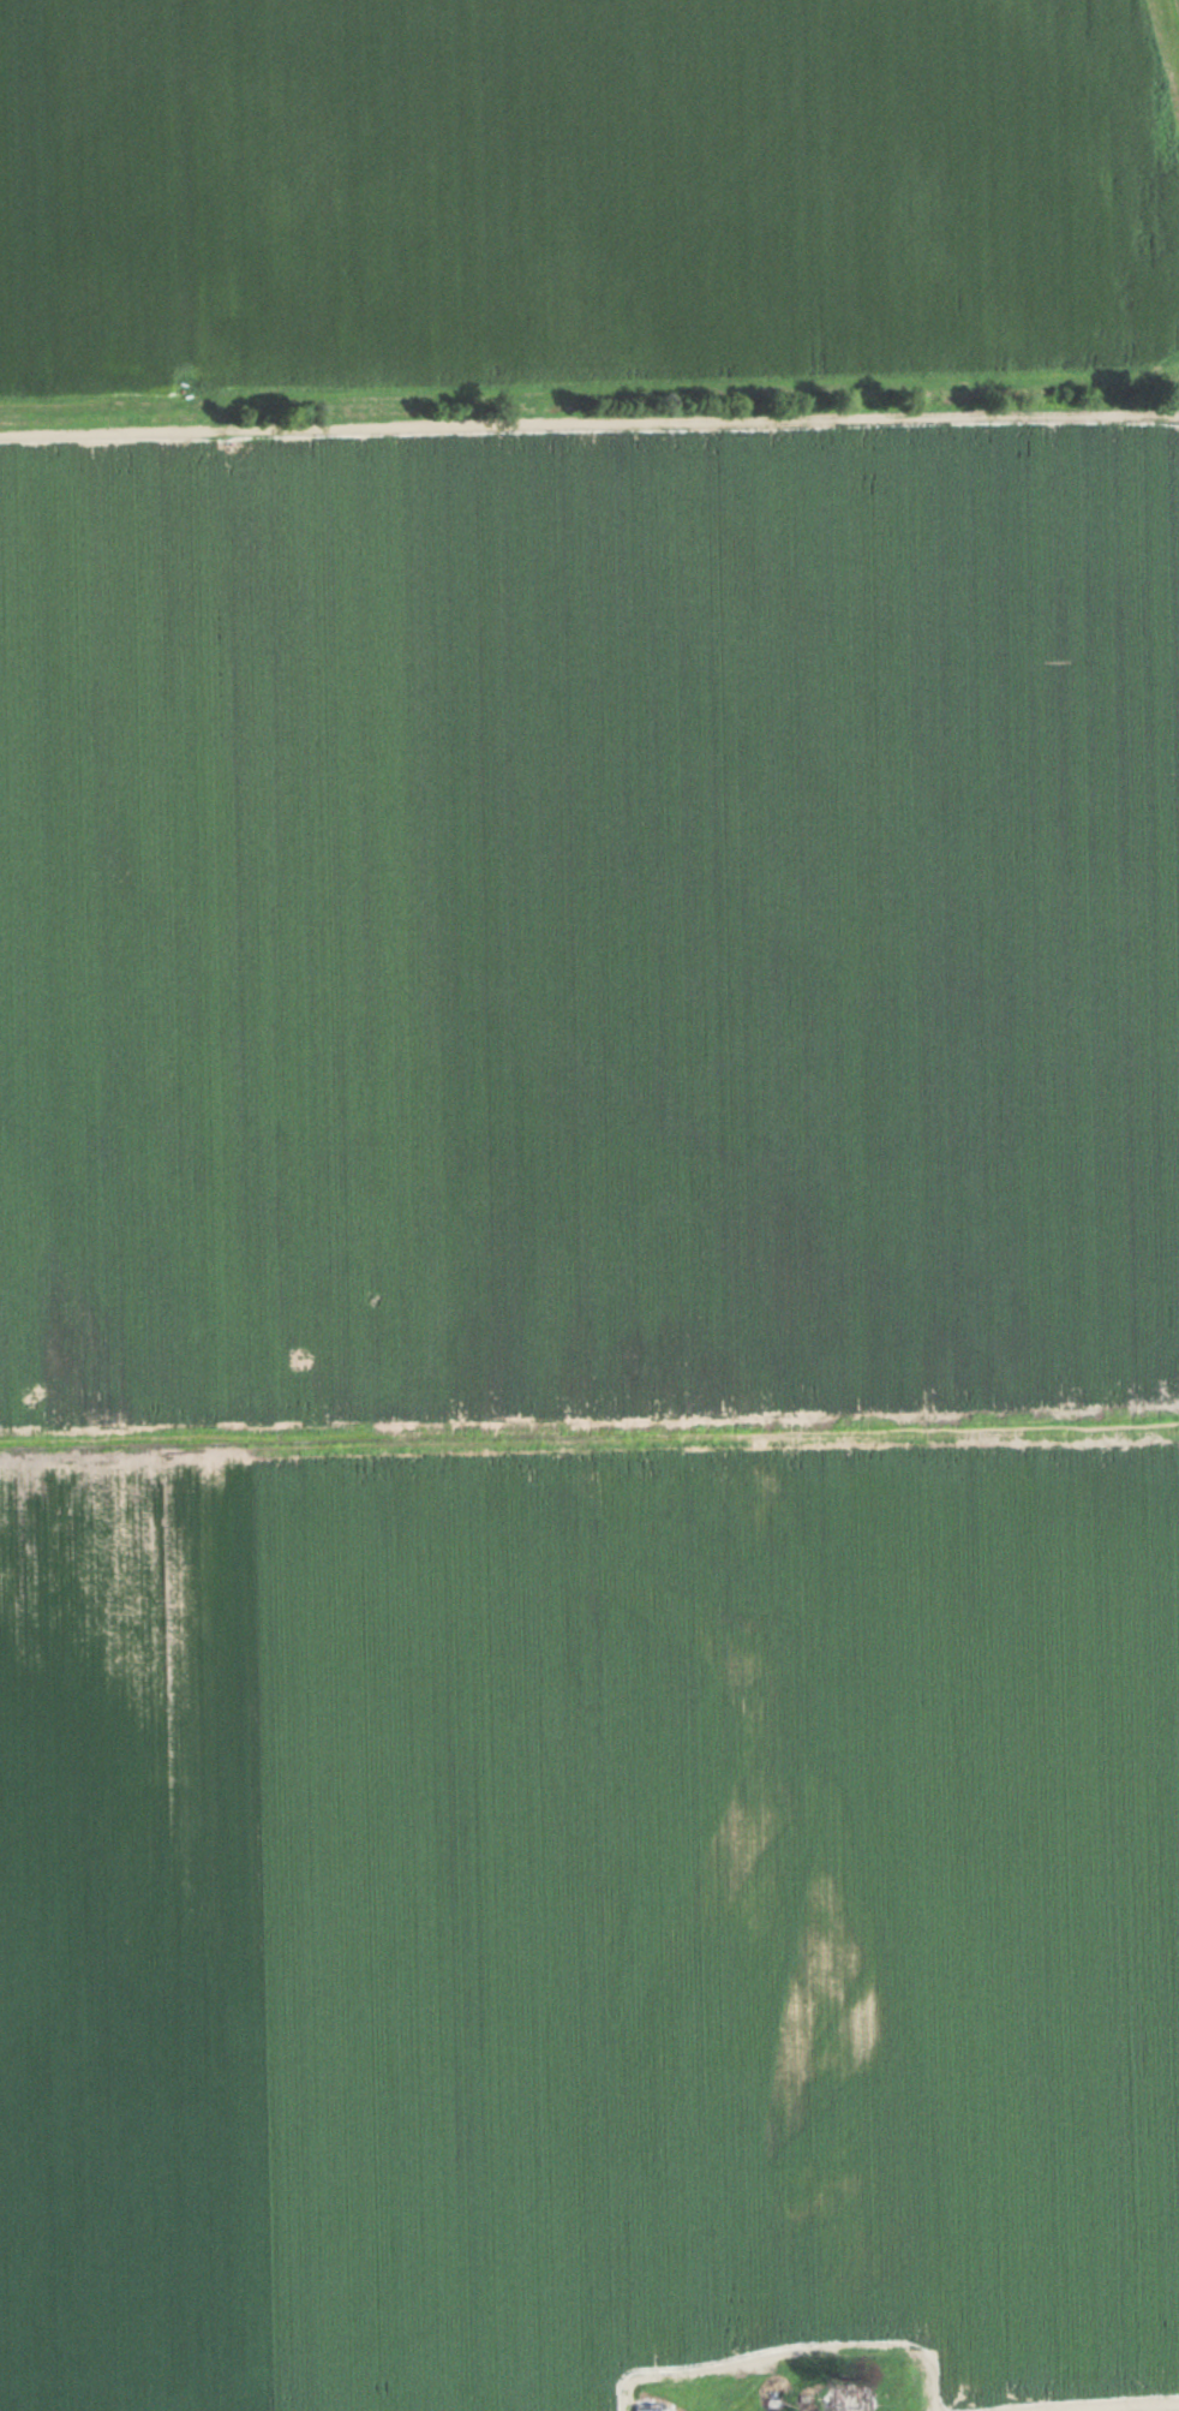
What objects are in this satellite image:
road: (1067, 2397)
building: (651, 2409)

